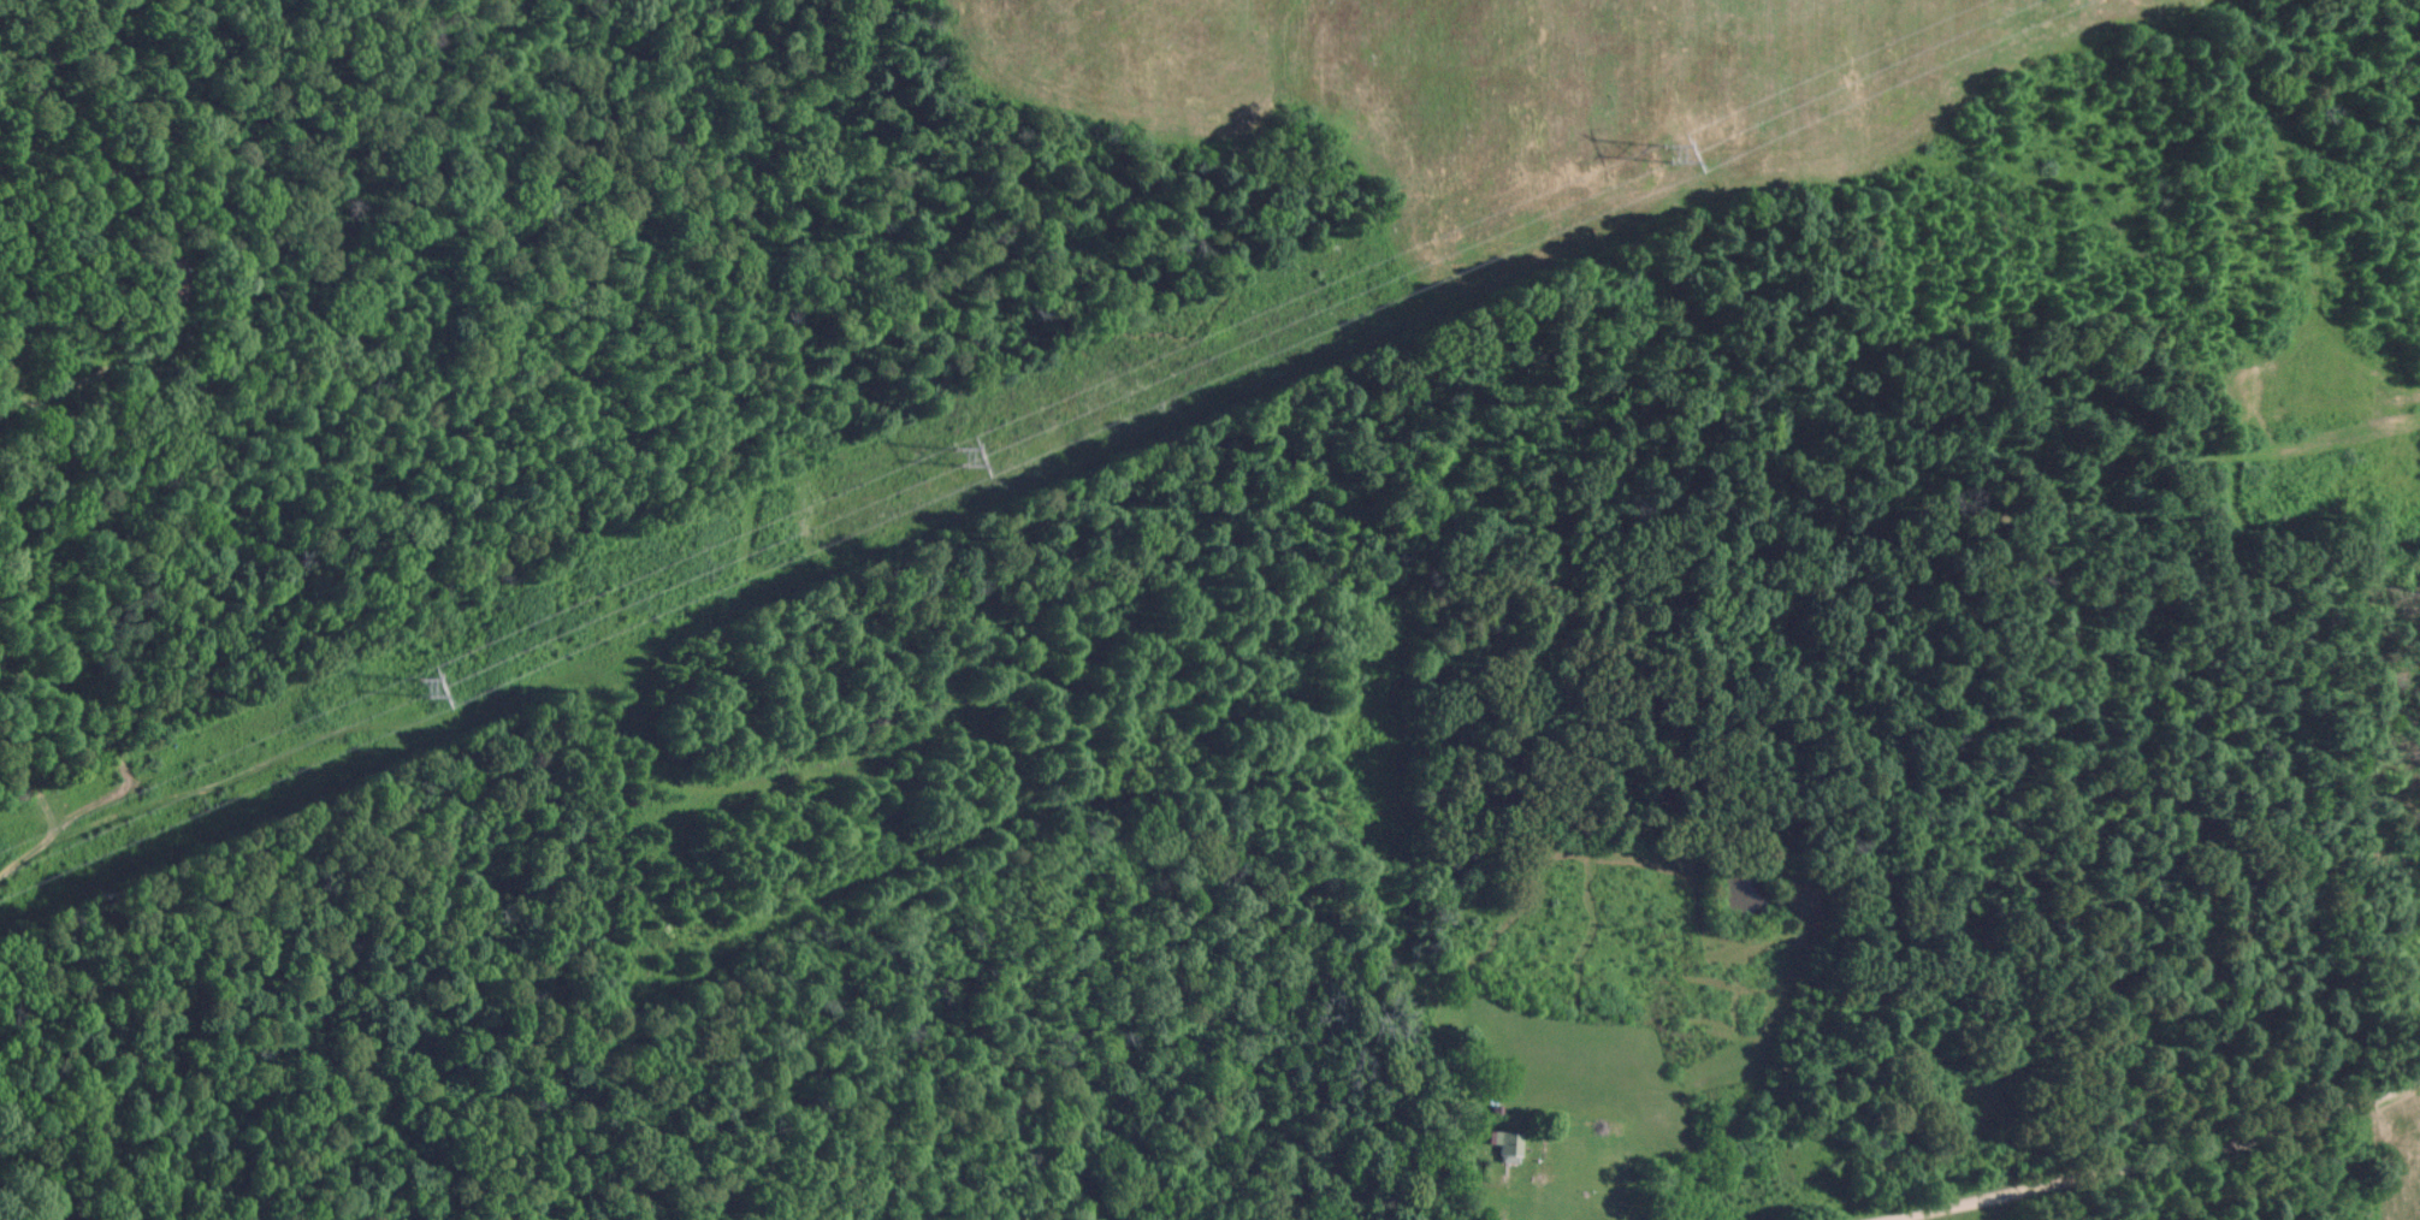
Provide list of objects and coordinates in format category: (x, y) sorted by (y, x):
power tower: (1664, 152)
building: (171, 274)
power tower: (957, 455)
power tower: (419, 686)
building: (1504, 1143)
road: (2149, 1160)

